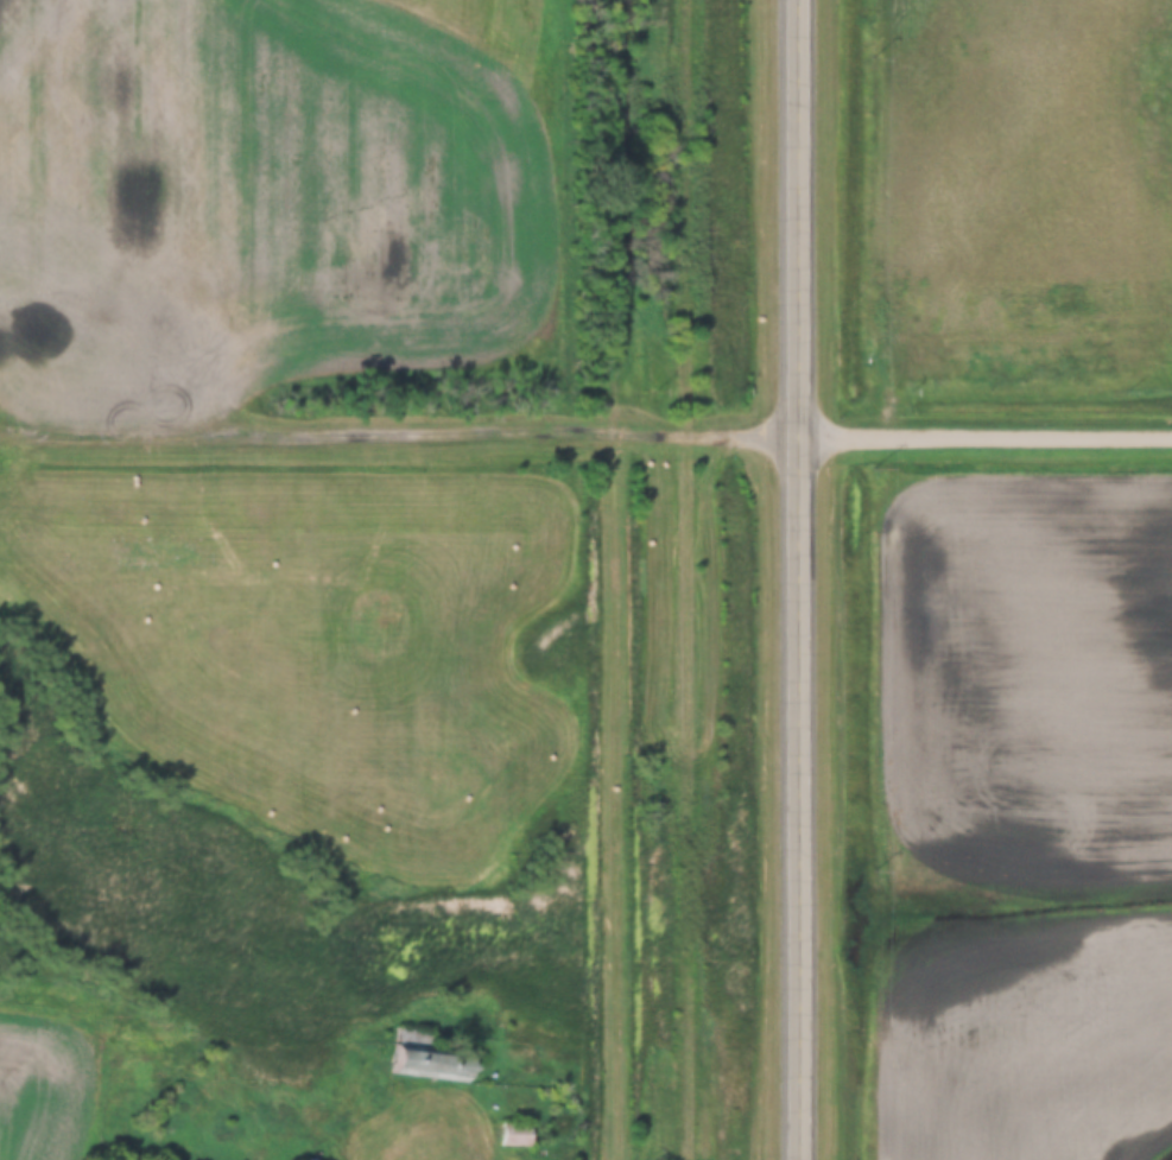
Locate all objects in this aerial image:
road: (399, 438)
road: (986, 444)
road: (800, 579)
building: (426, 1060)
building: (518, 1137)

